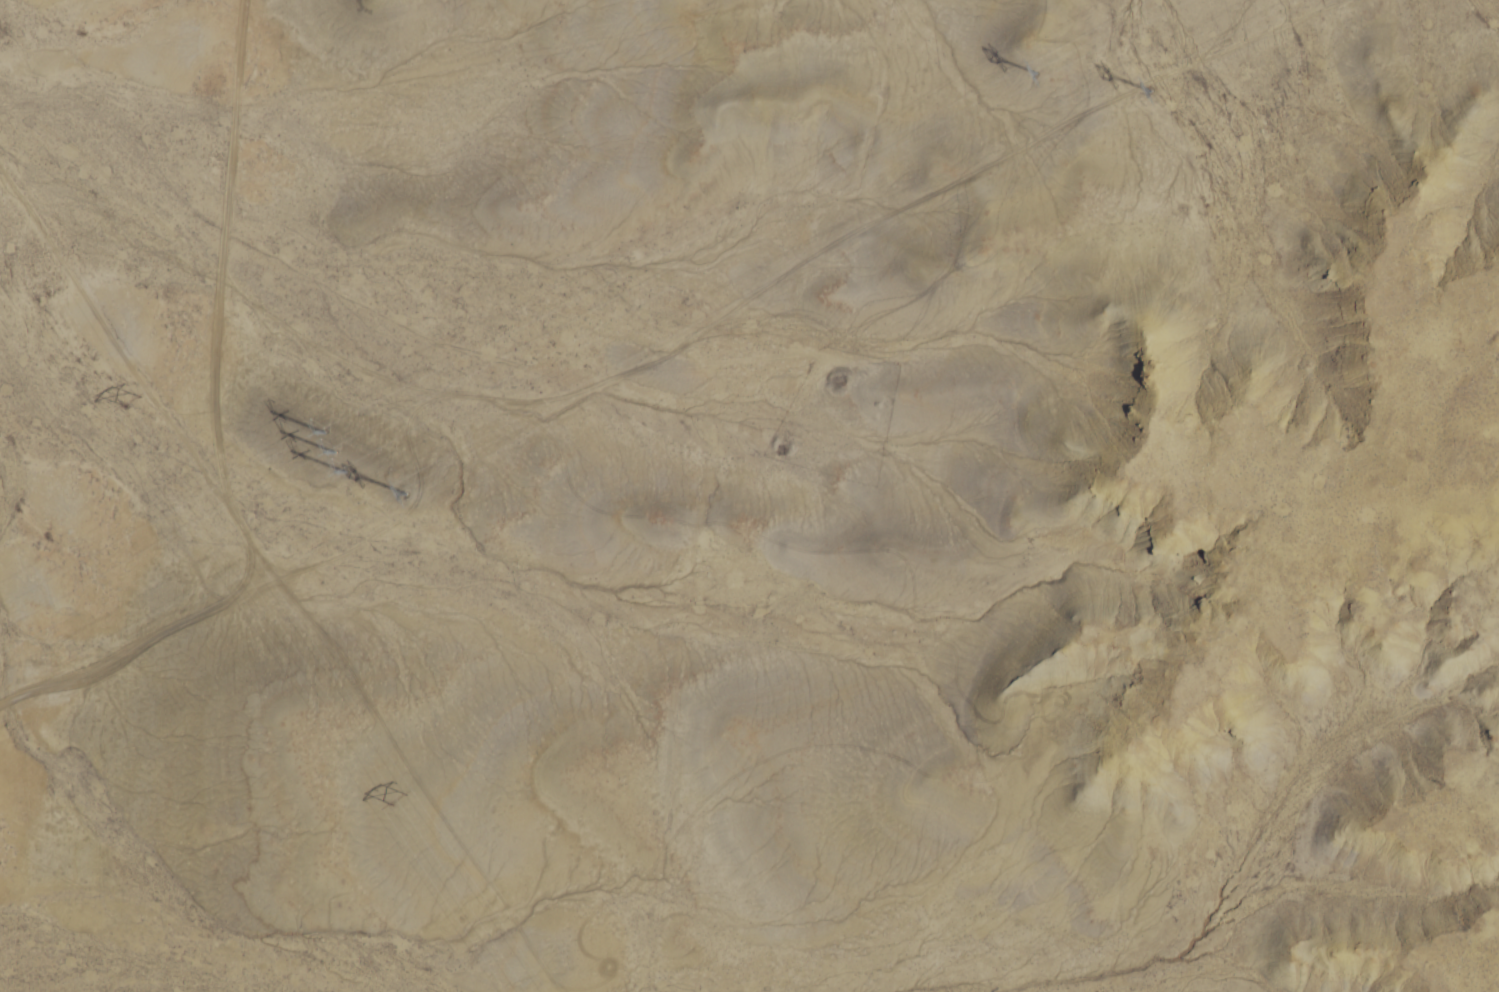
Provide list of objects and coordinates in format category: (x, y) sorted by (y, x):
power tower: (1037, 67)
power tower: (1152, 84)
power tower: (132, 395)
power tower: (333, 443)
power tower: (404, 487)
road: (252, 534)
power tower: (398, 794)

